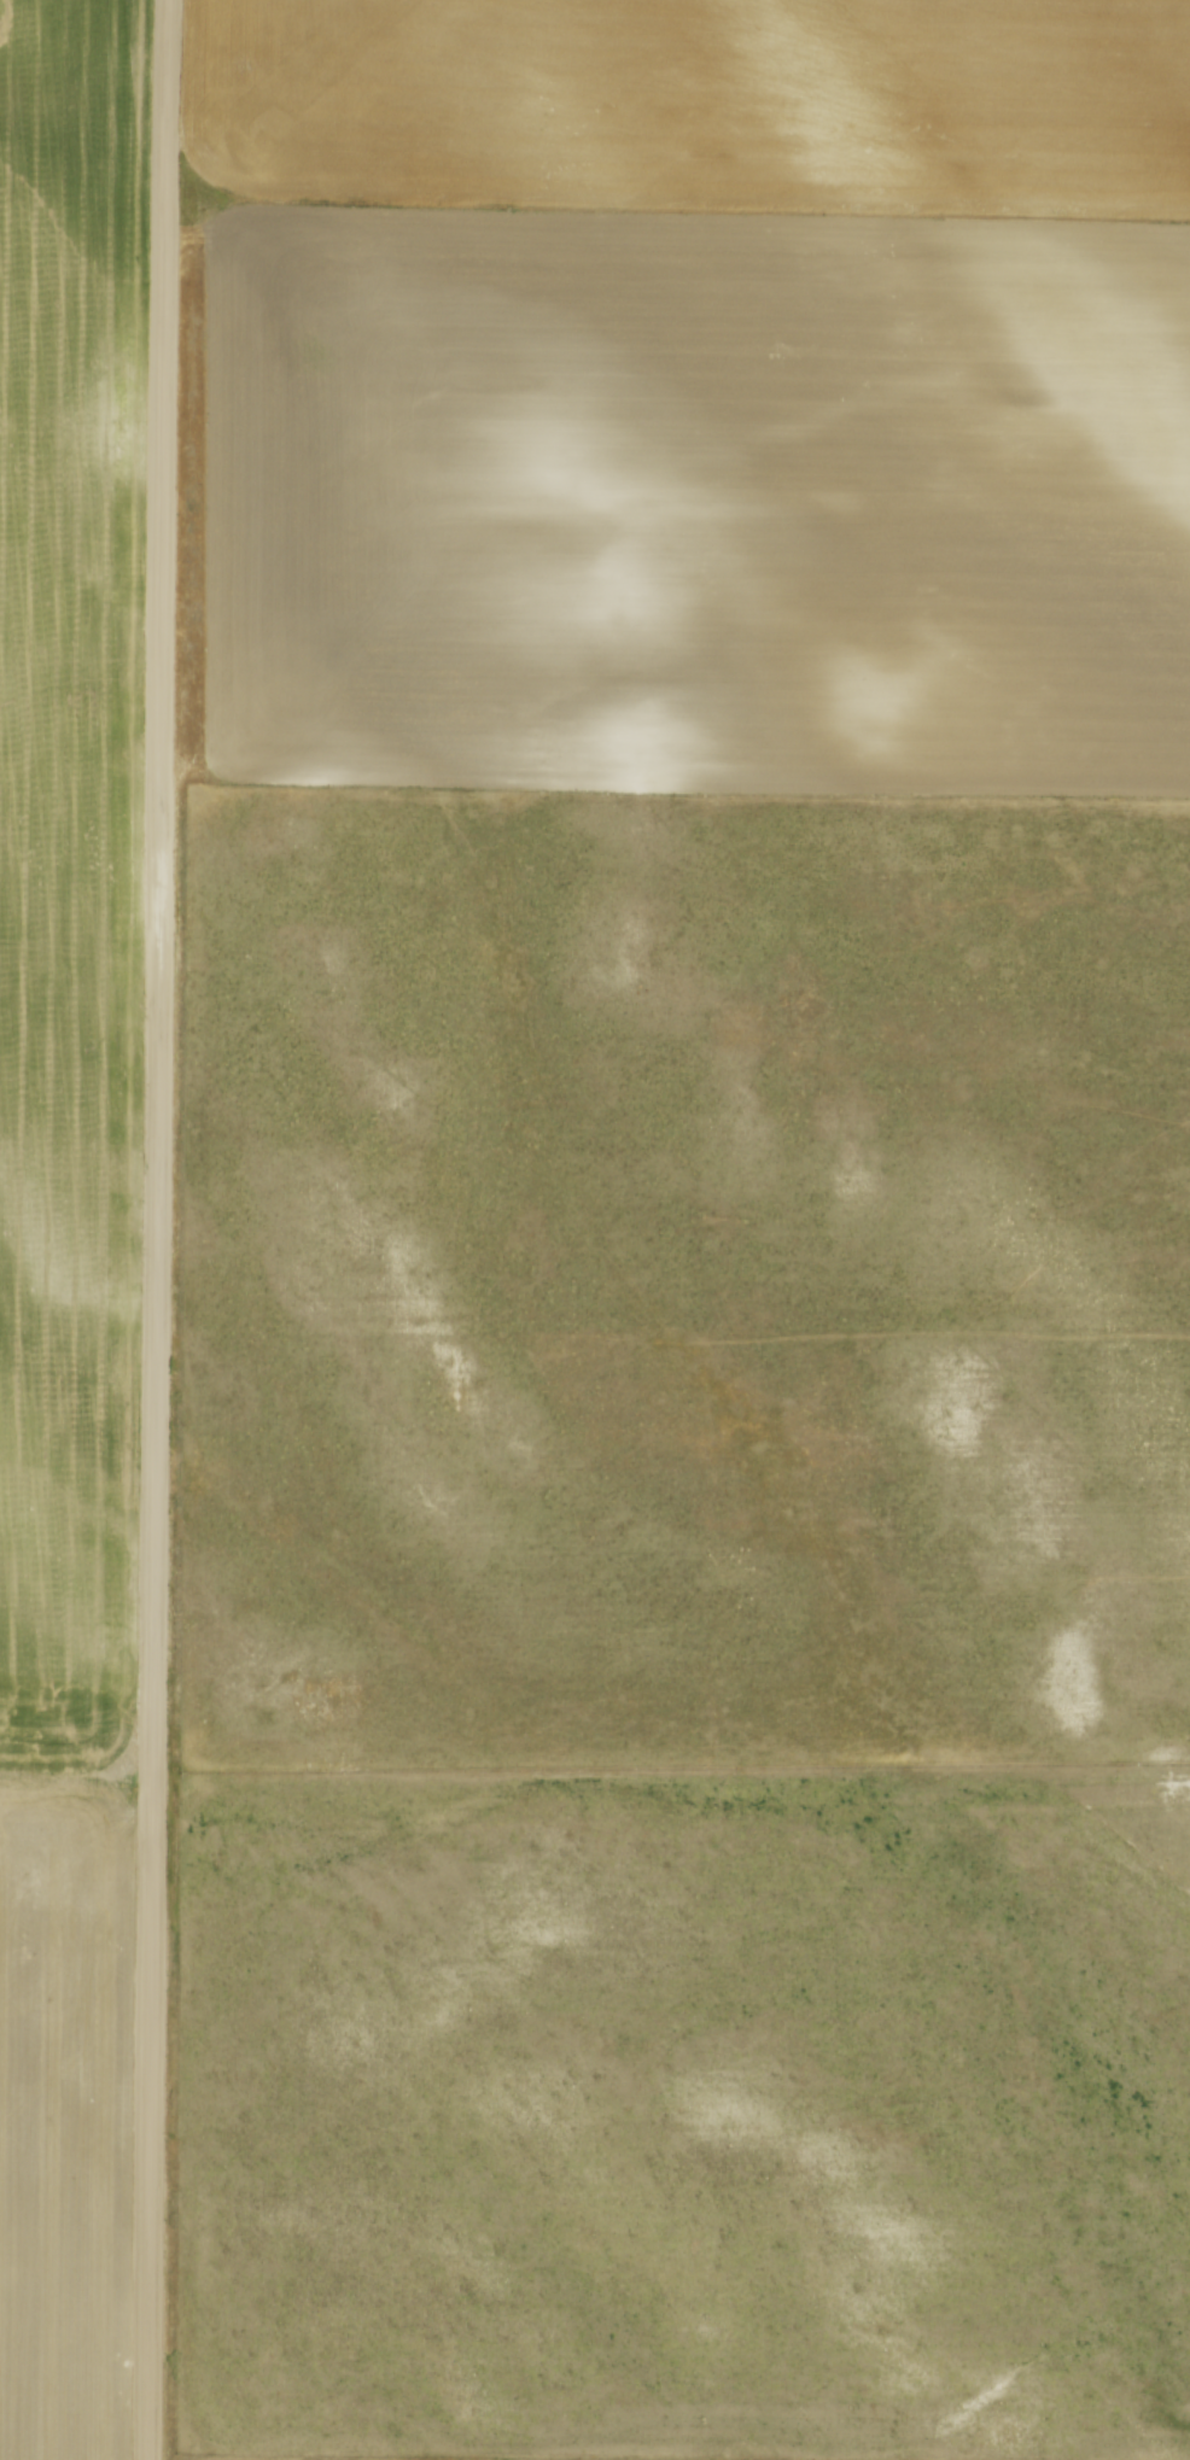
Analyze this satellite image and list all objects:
crop: (688, 390)
crop: (71, 1193)
road: (158, 1229)
crop: (439, 2456)

